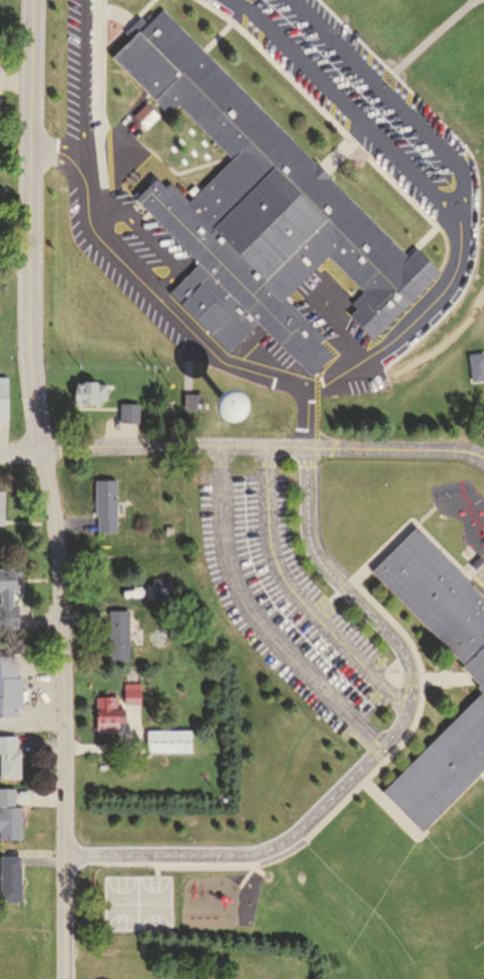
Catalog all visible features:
parking lot: (85, 67)
road: (15, 79)
road: (86, 84)
road: (390, 103)
road: (345, 110)
building: (143, 118)
parking lot: (430, 173)
building: (253, 213)
road: (147, 288)
building: (85, 393)
building: (3, 399)
building: (192, 402)
water tower: (233, 408)
building: (128, 412)
road: (263, 446)
road: (21, 450)
road: (49, 489)
building: (104, 505)
building: (1, 507)
building: (159, 589)
road: (295, 597)
building: (9, 599)
parking lot: (284, 603)
road: (253, 619)
road: (380, 624)
building: (118, 636)
building: (474, 677)
building: (8, 688)
building: (132, 694)
building: (106, 715)
road: (32, 724)
building: (168, 742)
building: (9, 760)
building: (10, 818)
building: (9, 881)
park: (138, 902)

